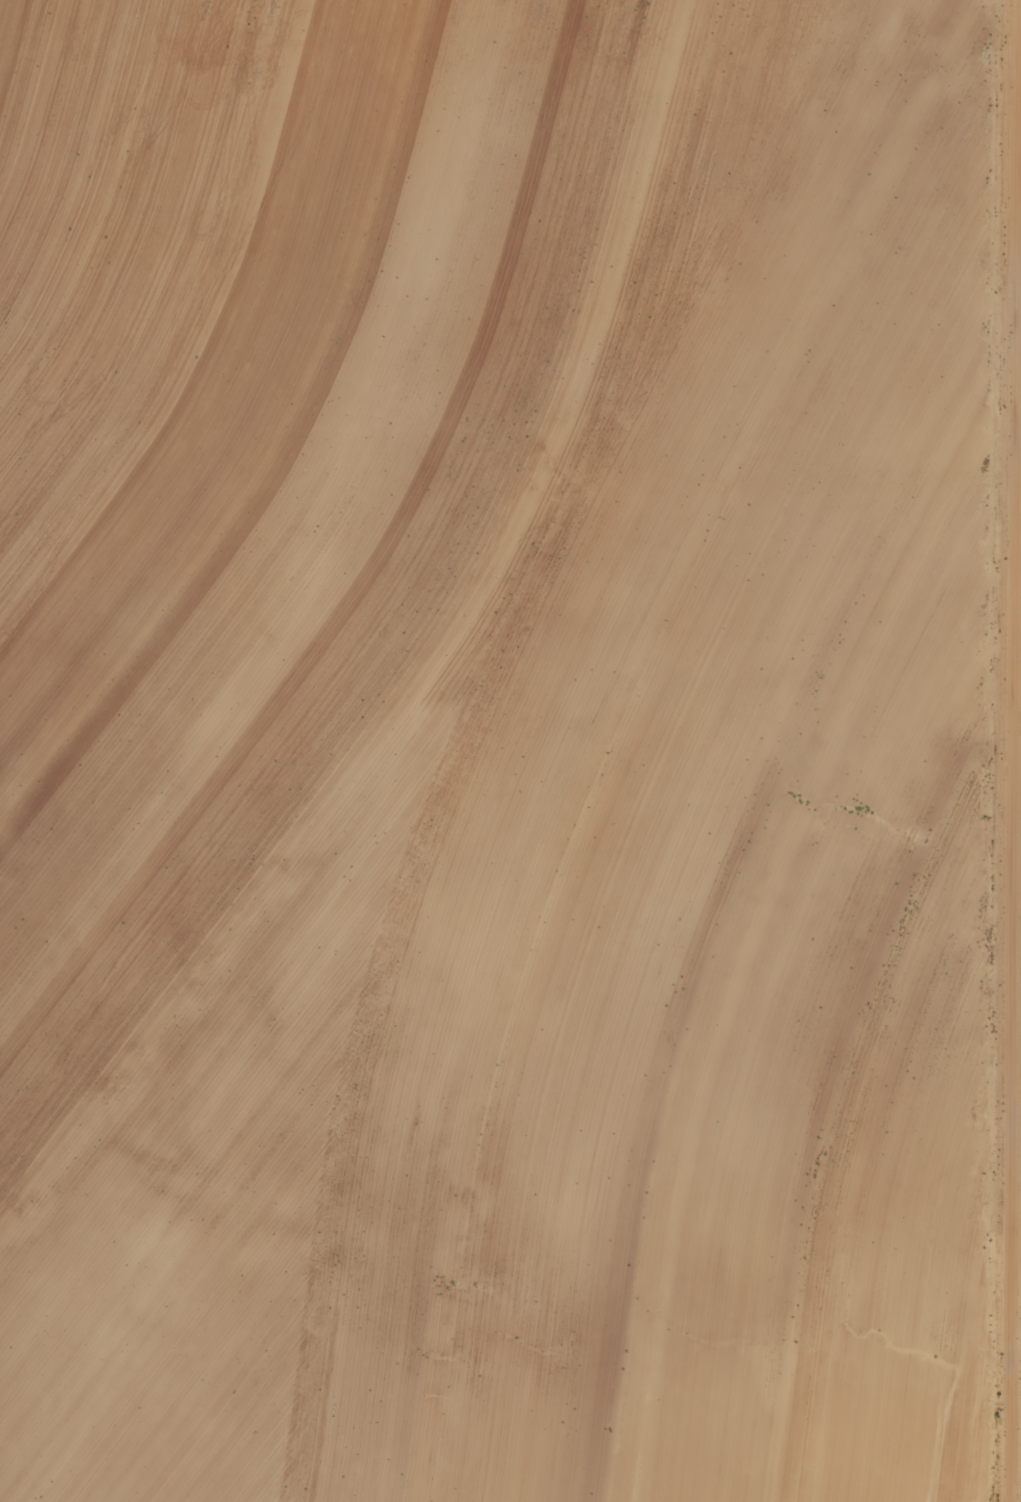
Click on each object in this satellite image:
road: (998, 751)

